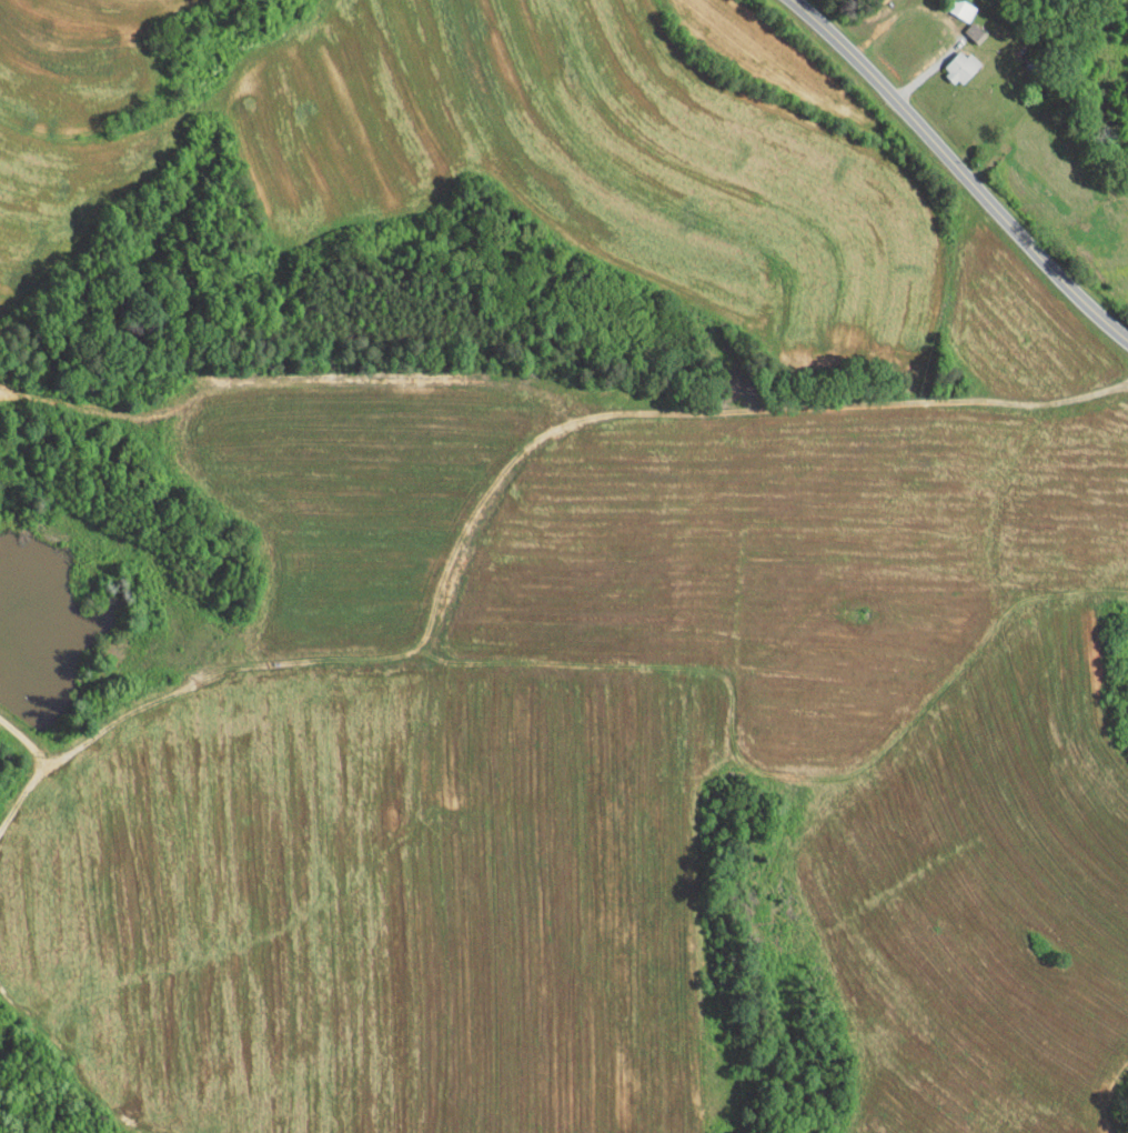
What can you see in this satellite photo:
building: (950, 4)
building: (963, 24)
building: (949, 59)
road: (959, 170)

